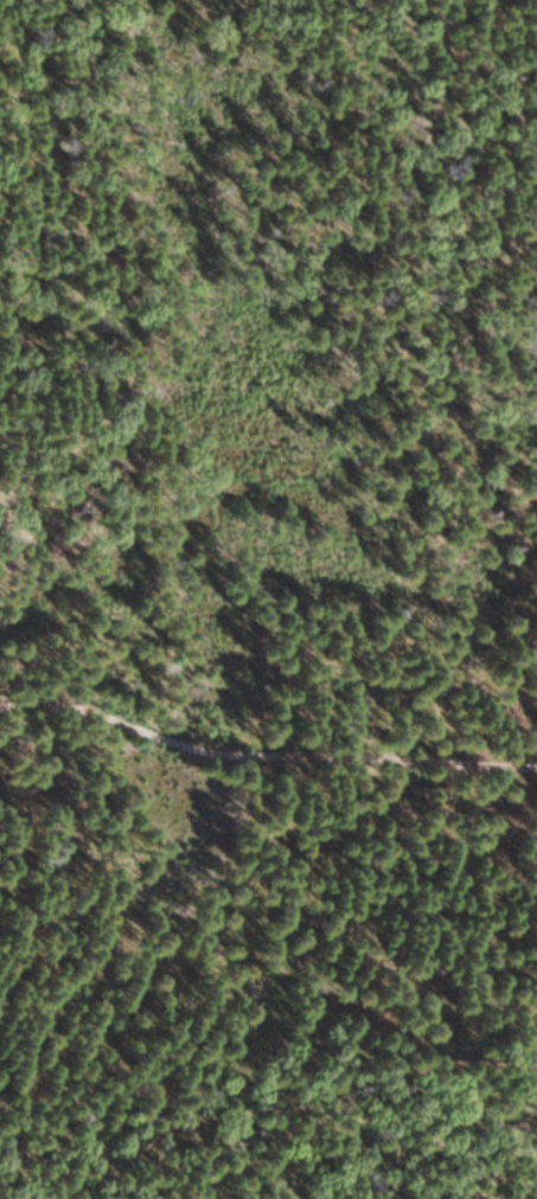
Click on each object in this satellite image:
road: (263, 755)

